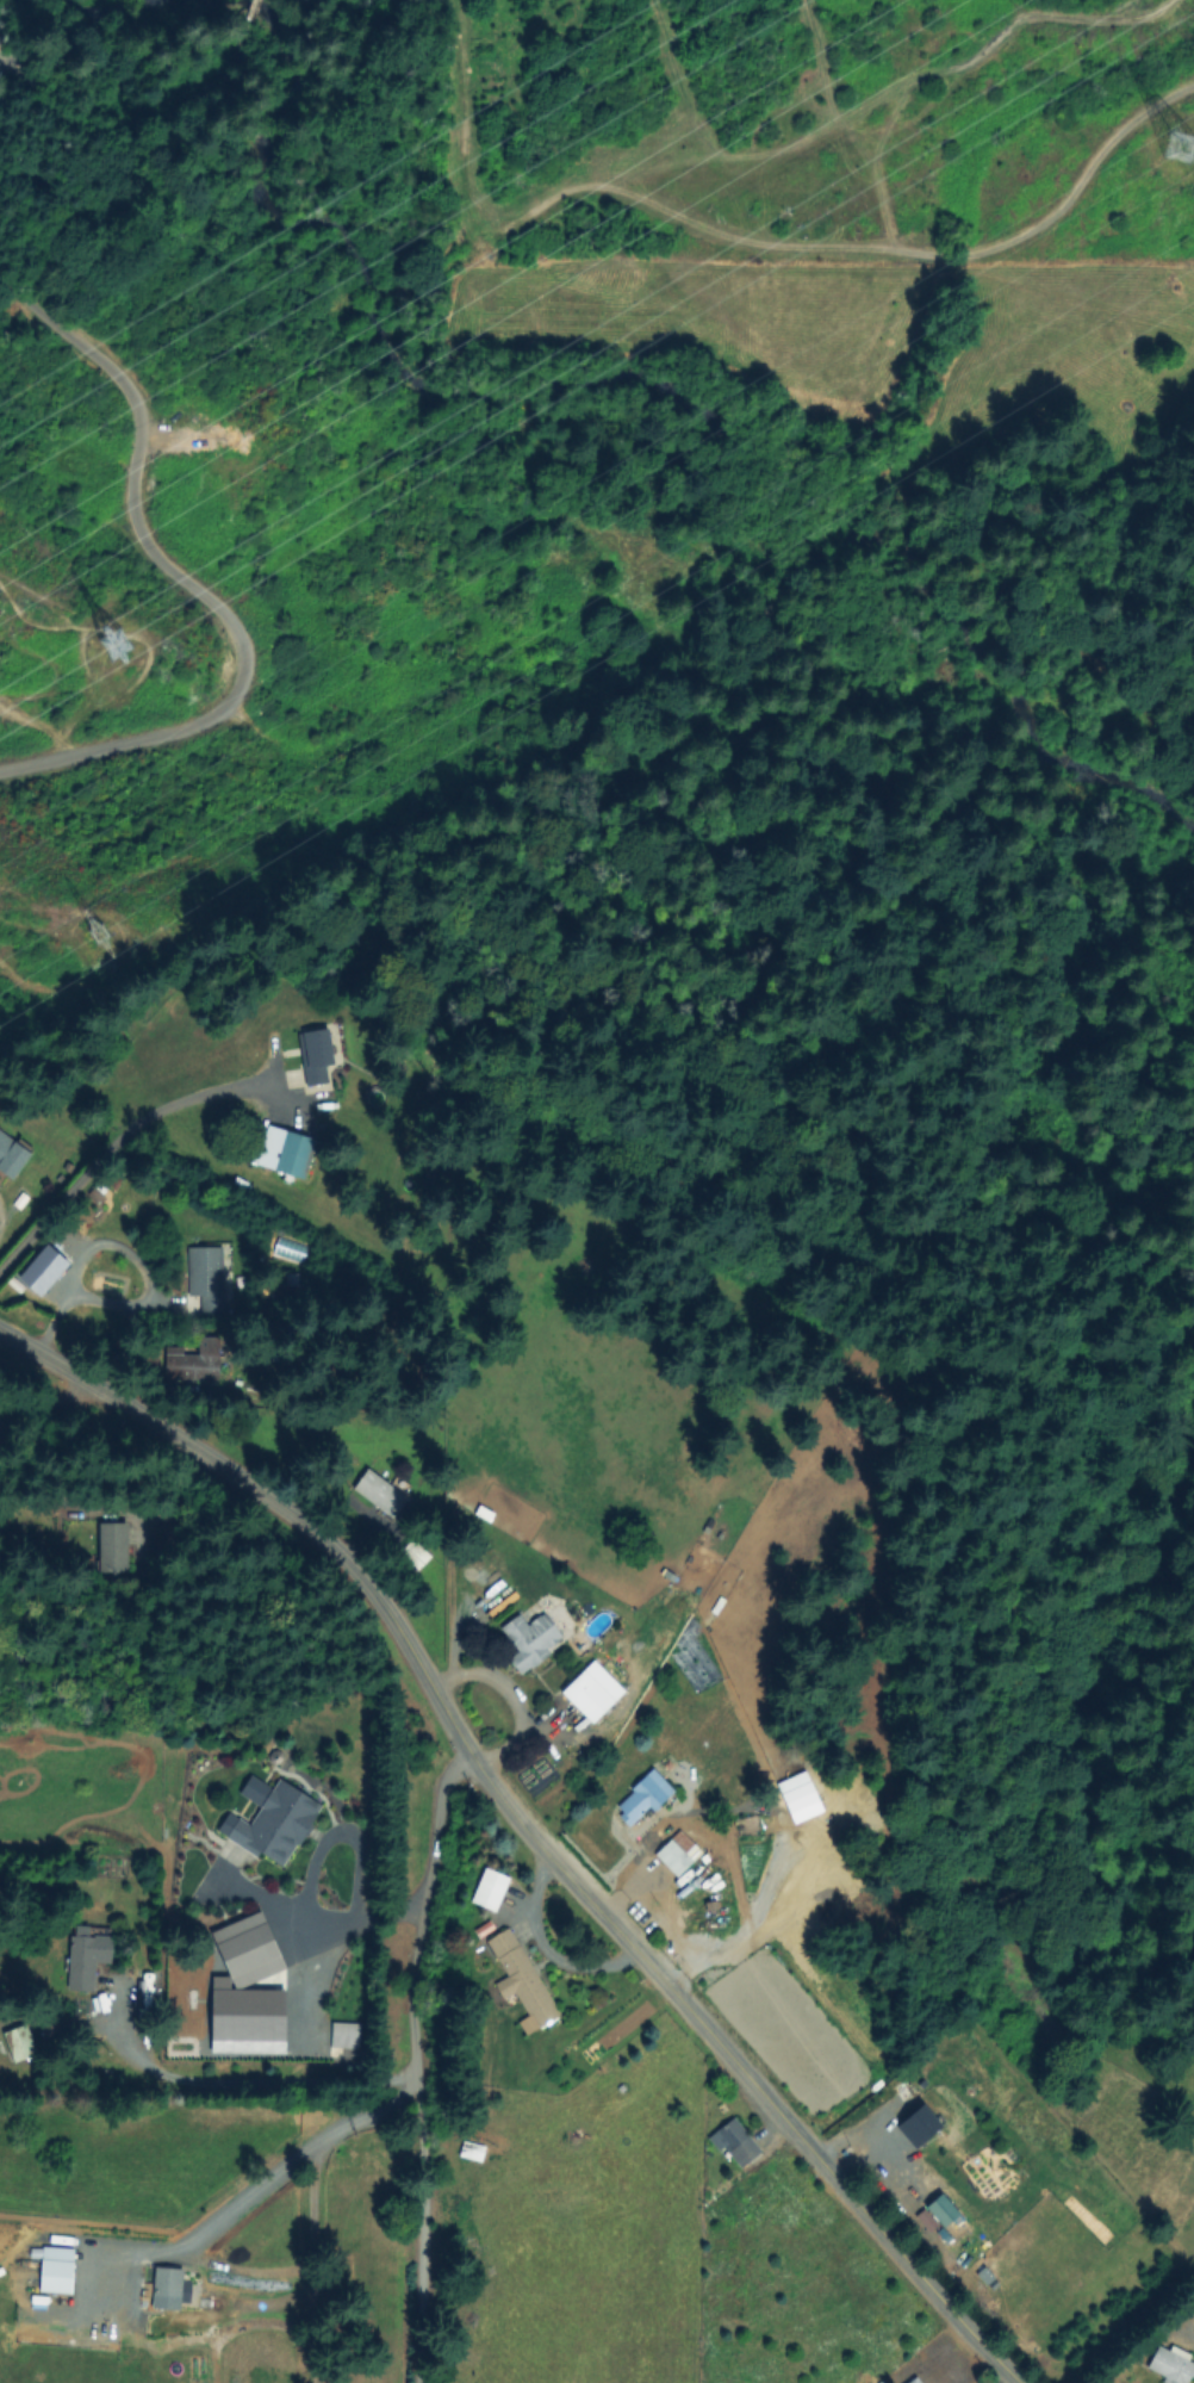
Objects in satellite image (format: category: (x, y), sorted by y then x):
power tower: (1174, 139)
building: (433, 370)
road: (186, 587)
power tower: (105, 650)
power tower: (95, 939)
building: (318, 1055)
building: (324, 1094)
building: (301, 1119)
road: (114, 1131)
building: (12, 1153)
building: (297, 1155)
building: (44, 1256)
building: (203, 1282)
building: (191, 1361)
road: (46, 1403)
building: (381, 1491)
building: (114, 1546)
building: (416, 1554)
building: (530, 1640)
building: (592, 1692)
road: (514, 1693)
building: (741, 1795)
building: (801, 1796)
building: (649, 1799)
building: (275, 1819)
road: (340, 1830)
road: (526, 1830)
building: (682, 1858)
building: (491, 1889)
road: (653, 1912)
road: (315, 1920)
road: (744, 1931)
building: (250, 1949)
building: (87, 1960)
road: (676, 1968)
building: (526, 1981)
building: (21, 2042)
road: (406, 2060)
road: (247, 2083)
building: (913, 2084)
road: (872, 2131)
building: (960, 2147)
building: (472, 2151)
road: (236, 2202)
road: (305, 2205)
building: (945, 2210)
road: (240, 2264)
building: (60, 2270)
building: (106, 2278)
building: (172, 2285)
building: (1173, 2364)
building: (916, 2381)

